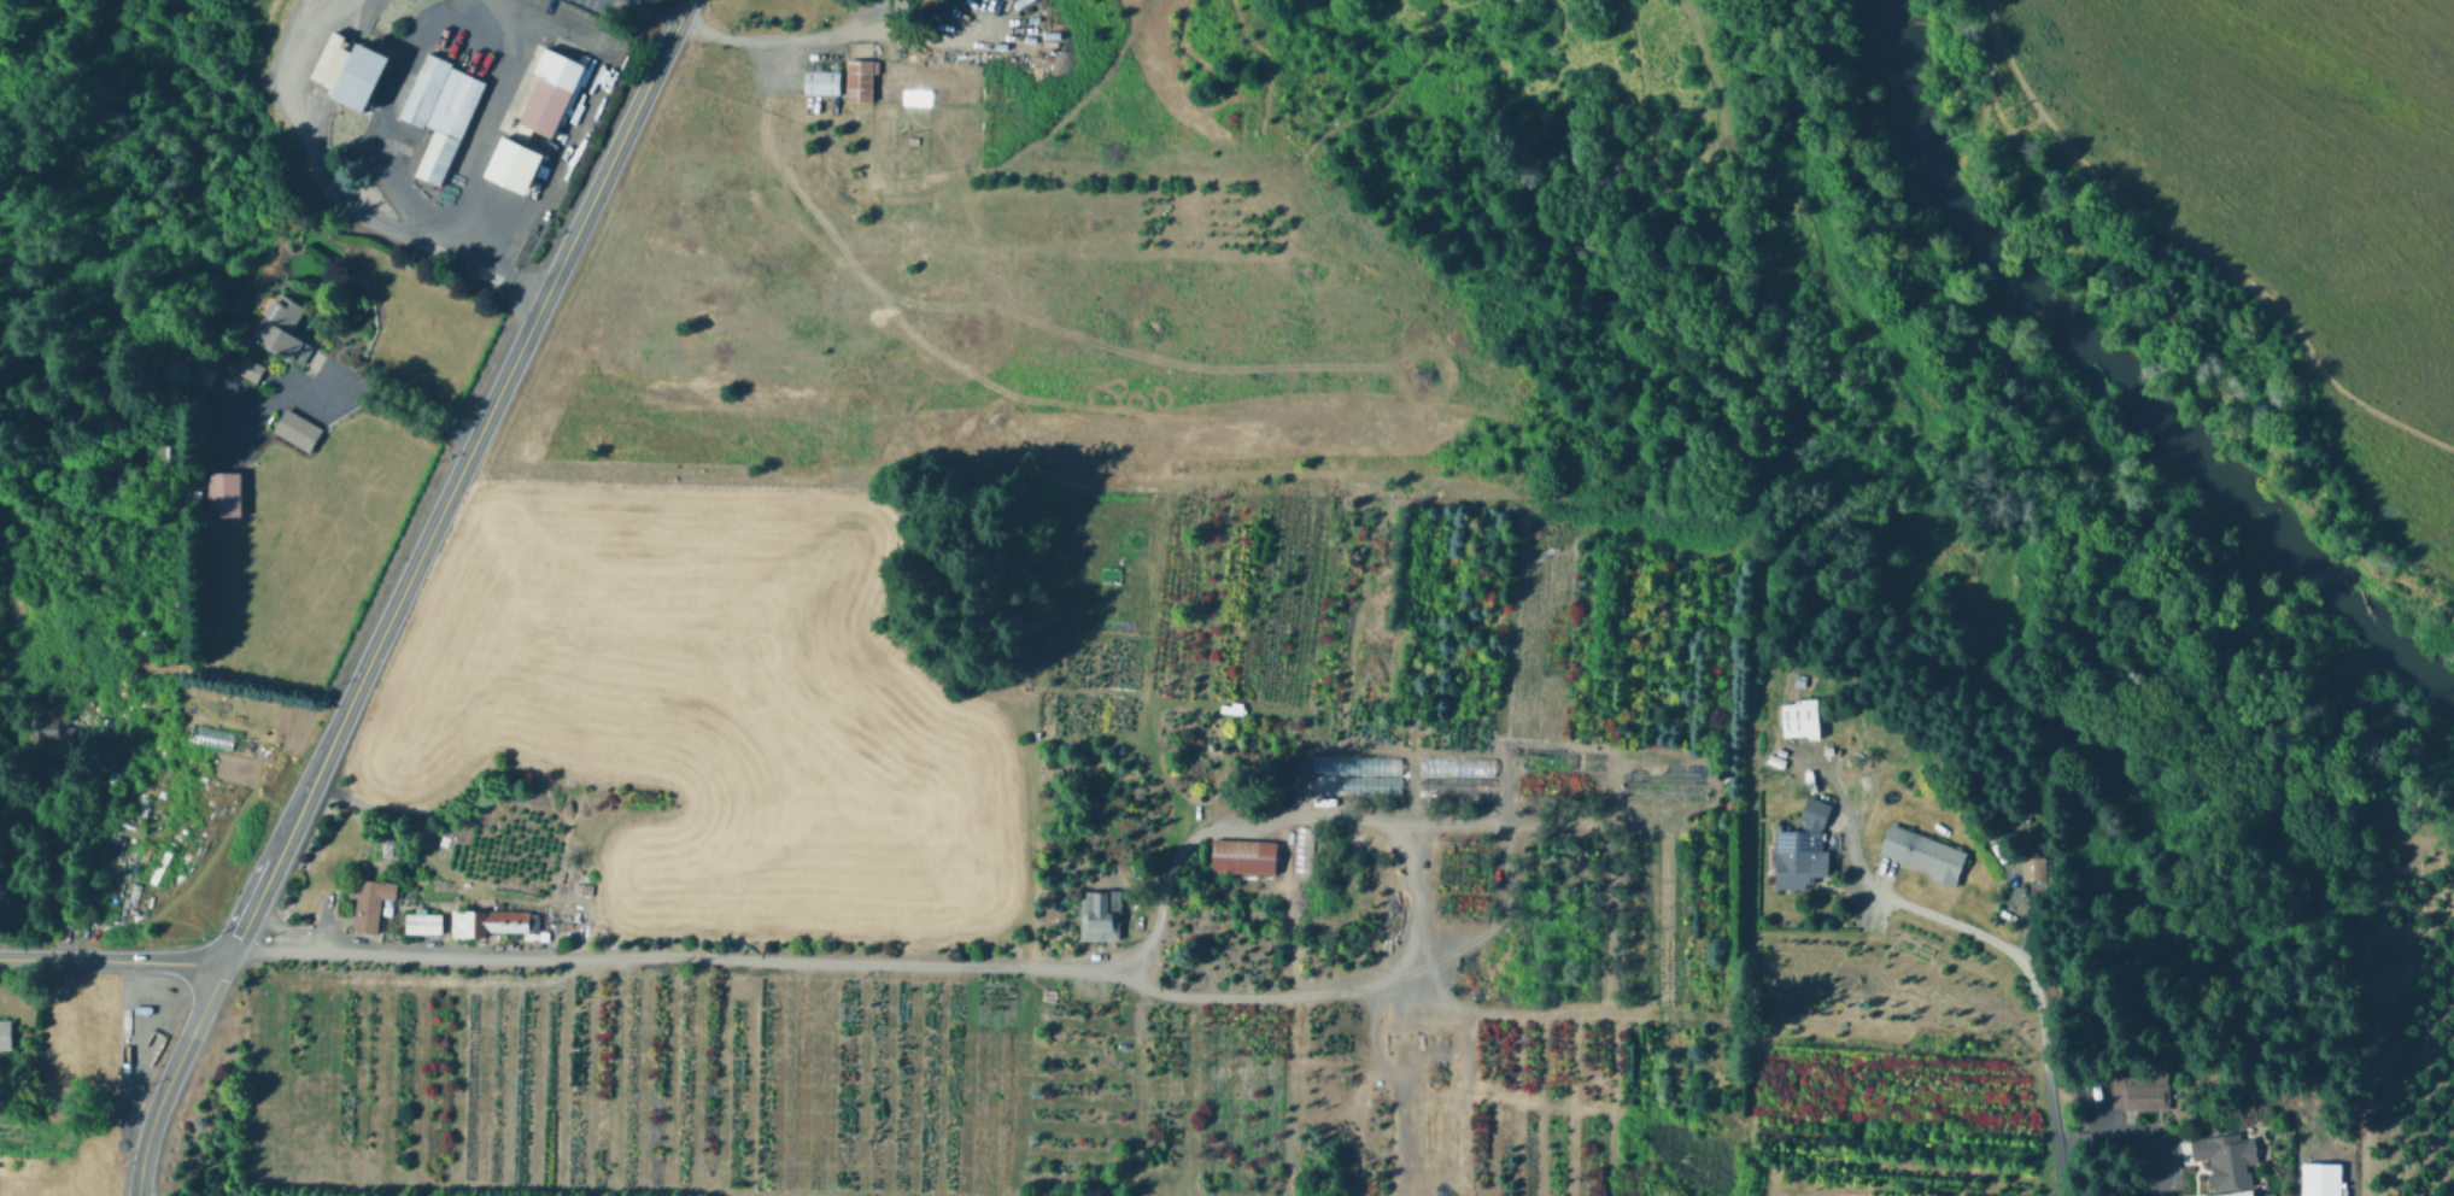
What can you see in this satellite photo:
road: (651, 11)
road: (855, 22)
road: (410, 51)
building: (341, 65)
building: (824, 77)
building: (861, 80)
building: (551, 94)
building: (444, 111)
road: (492, 133)
road: (557, 156)
building: (513, 163)
road: (322, 176)
road: (2198, 242)
road: (513, 283)
road: (1329, 300)
building: (286, 329)
building: (251, 368)
building: (205, 373)
river: (2122, 382)
road: (335, 388)
building: (299, 429)
building: (165, 455)
road: (455, 481)
building: (227, 496)
building: (1, 628)
building: (53, 684)
building: (1226, 714)
building: (1798, 722)
building: (54, 726)
building: (1563, 762)
building: (1377, 767)
building: (1333, 768)
building: (1454, 769)
building: (1663, 773)
building: (1560, 787)
building: (1354, 788)
building: (1454, 790)
building: (1663, 793)
building: (1800, 855)
building: (1246, 856)
building: (1923, 858)
building: (2033, 873)
building: (373, 904)
building: (1101, 915)
building: (424, 922)
building: (492, 922)
road: (2004, 949)
road: (112, 958)
road: (1087, 979)
building: (6, 1034)
building: (2172, 1062)
road: (170, 1075)
building: (2142, 1092)
road: (2136, 1130)
building: (2230, 1160)
building: (2321, 1179)
building: (2232, 1192)

